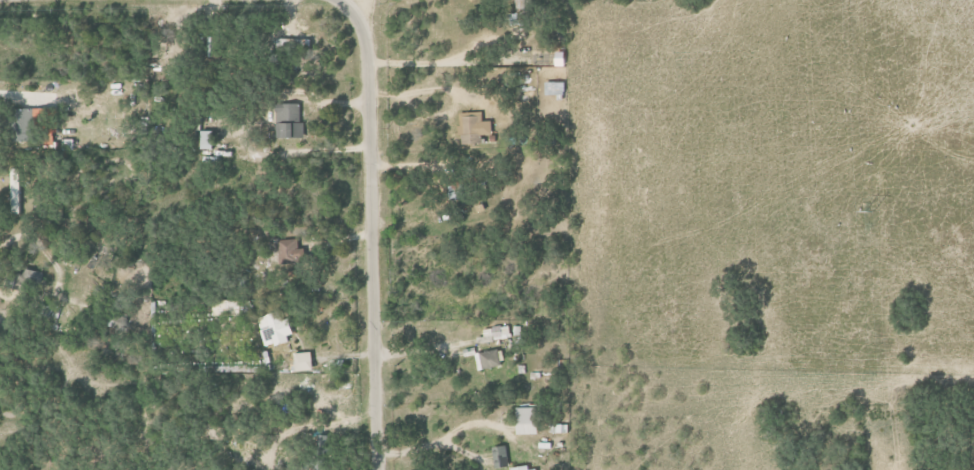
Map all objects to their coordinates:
road: (349, 2)
building: (525, 4)
building: (515, 19)
building: (292, 42)
road: (473, 62)
road: (451, 91)
road: (16, 97)
building: (289, 120)
building: (25, 125)
building: (474, 128)
building: (207, 140)
building: (16, 190)
building: (0, 209)
power tower: (871, 211)
road: (368, 230)
building: (289, 252)
road: (55, 270)
building: (275, 330)
building: (495, 334)
building: (489, 359)
building: (305, 361)
building: (527, 421)
road: (444, 437)
building: (502, 457)
building: (529, 468)

